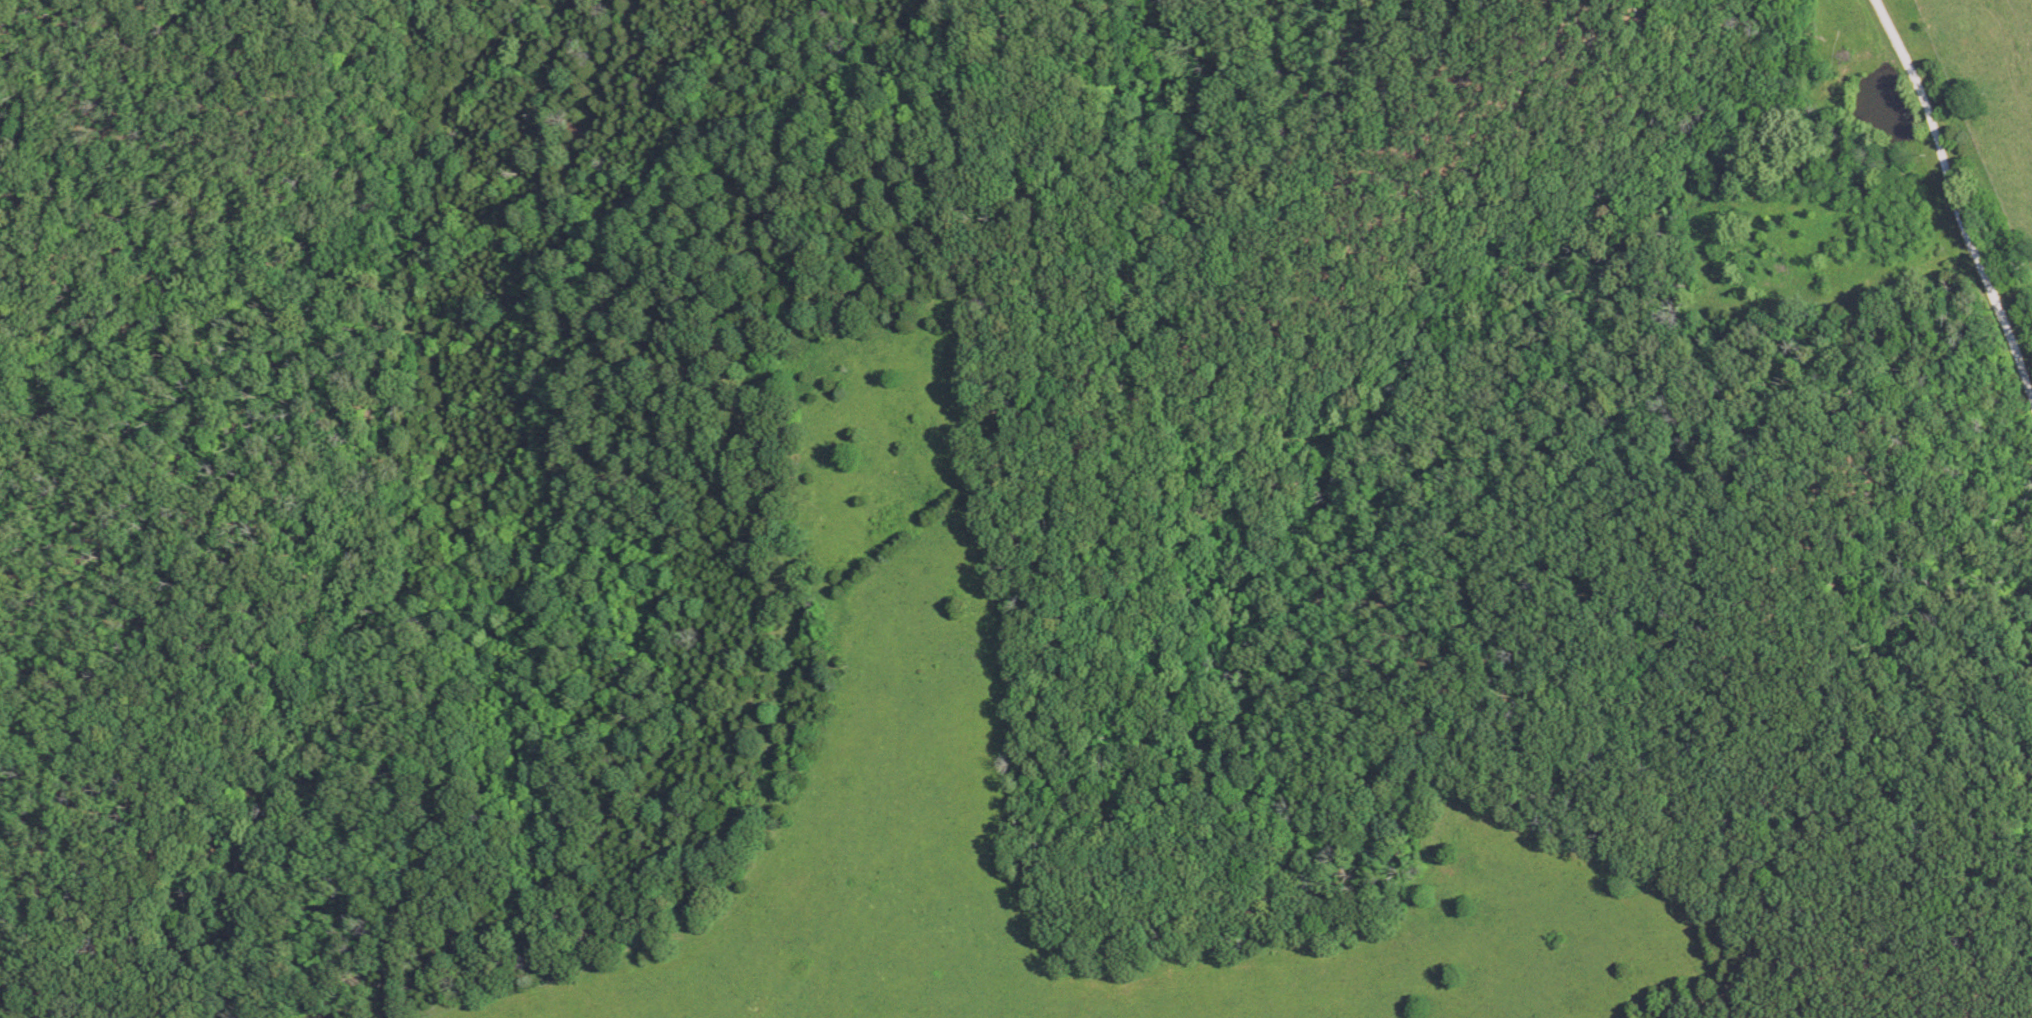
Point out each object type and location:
road: (1961, 196)

